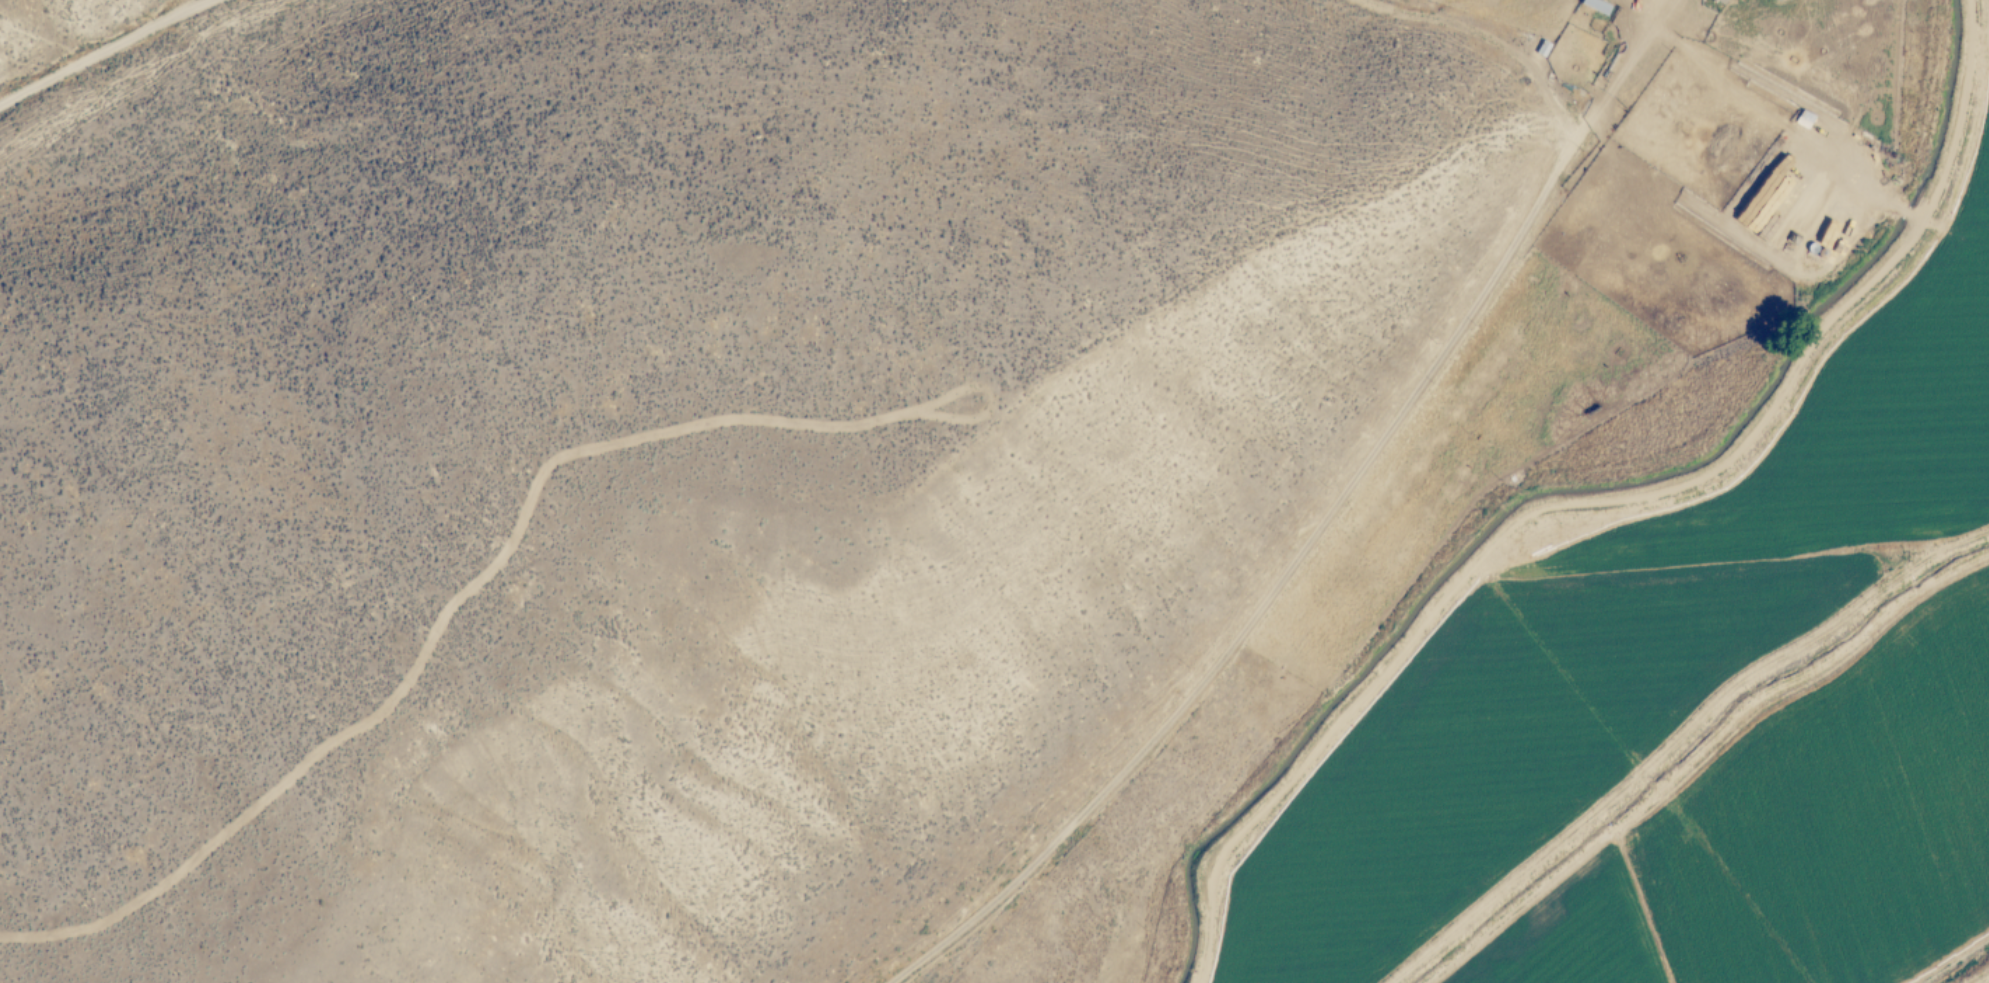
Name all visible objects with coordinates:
building: (1780, 0)
building: (1595, 7)
road: (1956, 116)
building: (1803, 121)
building: (1807, 156)
building: (1763, 218)
road: (1319, 524)

